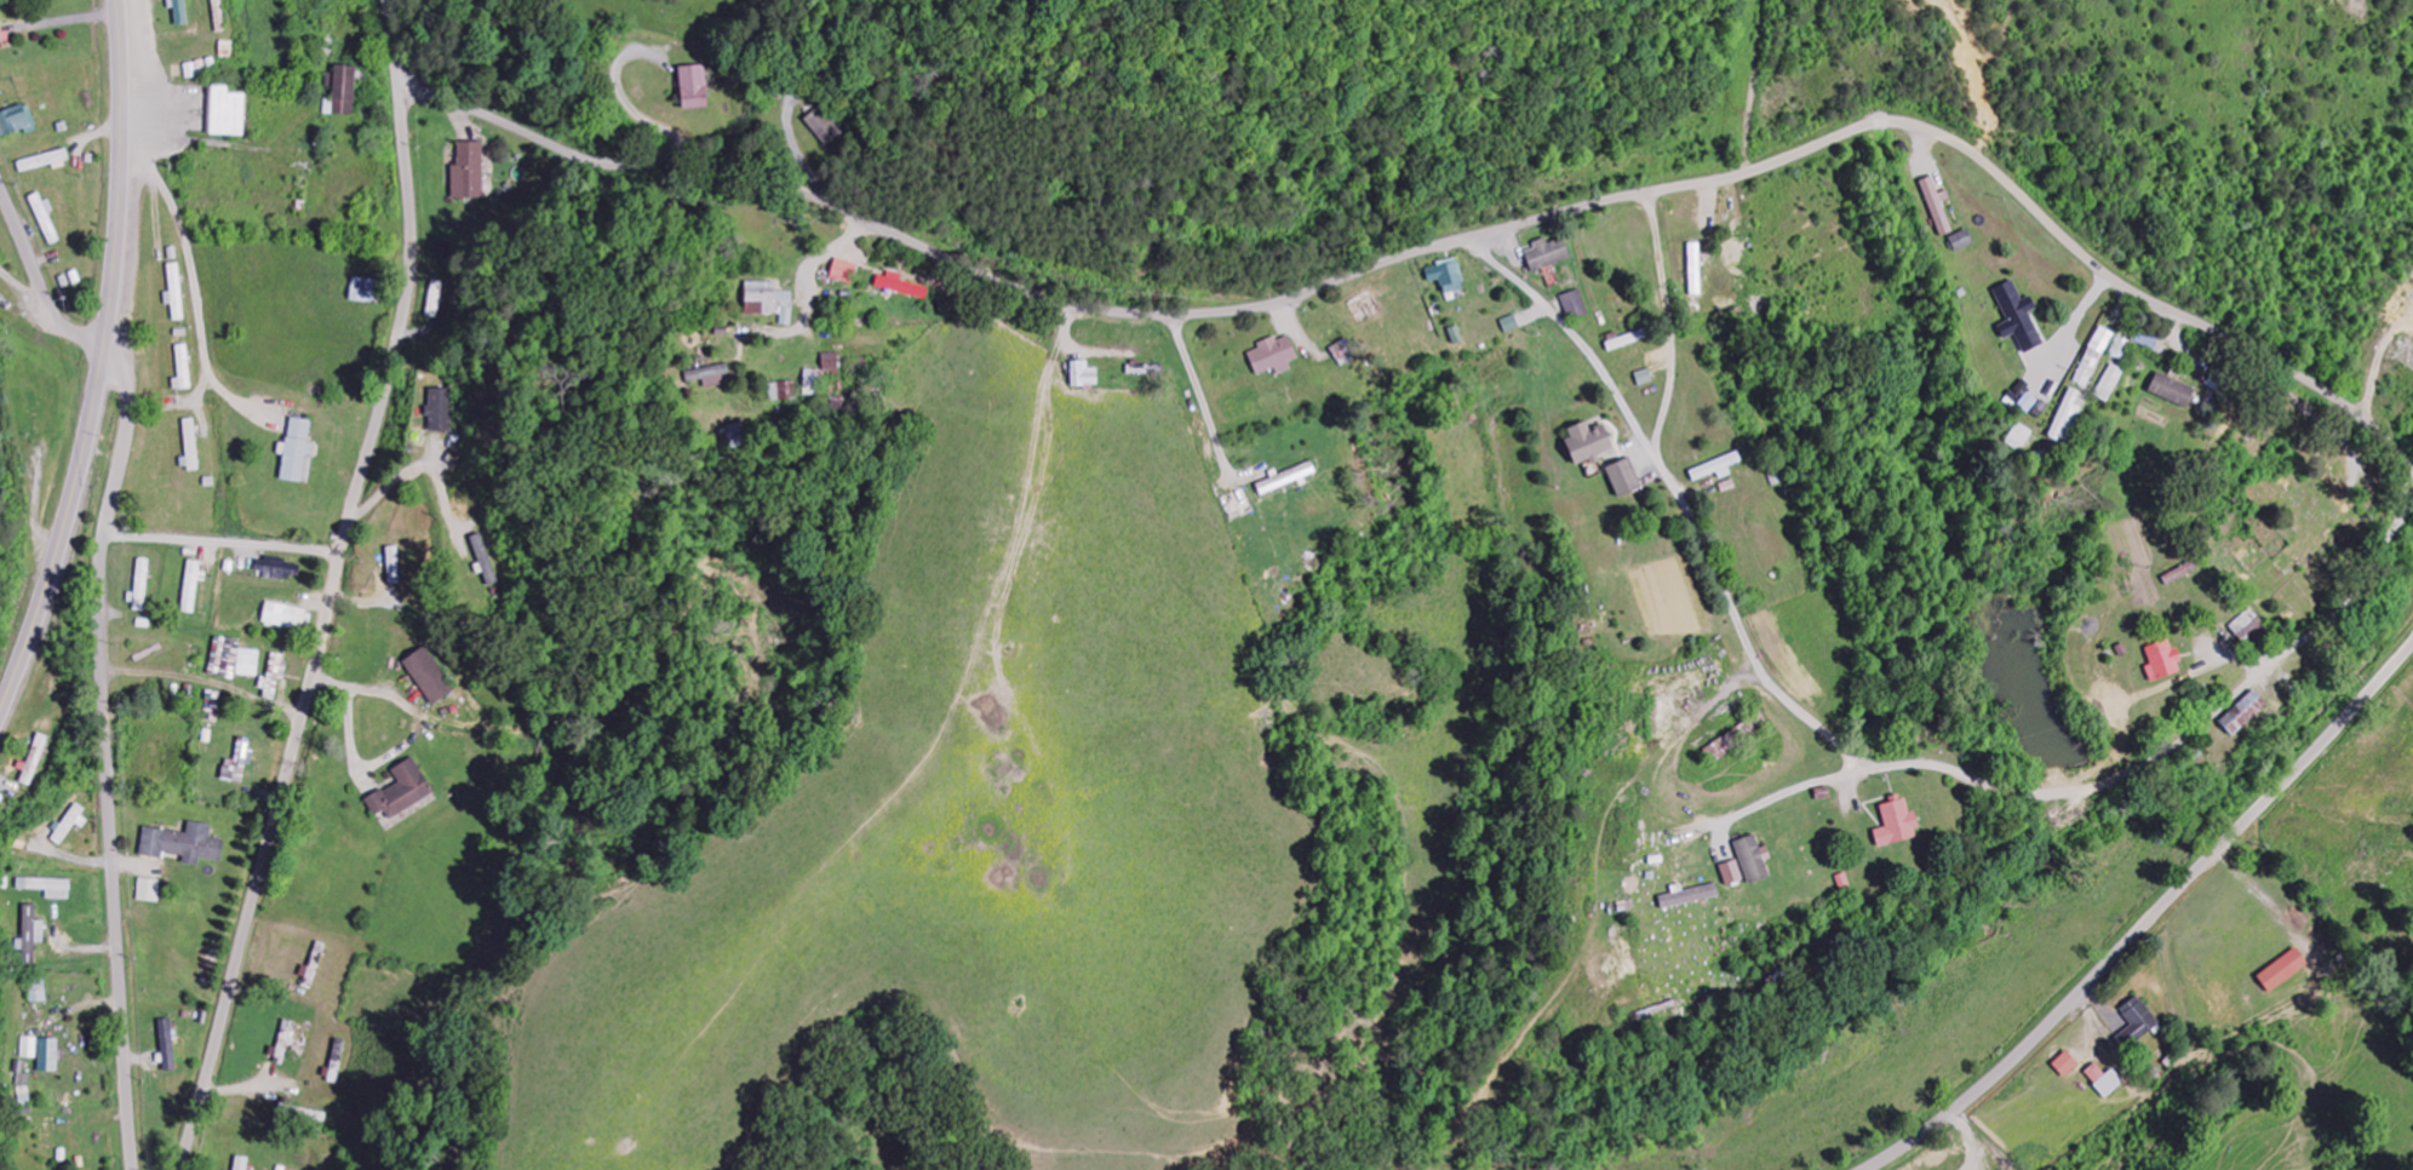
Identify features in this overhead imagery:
building: (179, 11)
building: (1, 33)
building: (694, 88)
building: (343, 92)
building: (227, 113)
building: (17, 121)
building: (825, 126)
building: (45, 161)
building: (469, 172)
building: (1938, 206)
building: (46, 219)
building: (1962, 241)
road: (1440, 248)
building: (1549, 254)
building: (1696, 269)
building: (844, 271)
building: (1449, 276)
road: (38, 279)
building: (901, 286)
building: (366, 291)
building: (176, 292)
building: (435, 299)
building: (769, 302)
building: (1575, 305)
building: (2019, 319)
building: (1511, 325)
building: (2147, 340)
building: (2121, 349)
building: (1345, 352)
building: (1274, 356)
building: (2094, 359)
building: (832, 363)
road: (102, 365)
building: (183, 369)
building: (711, 375)
building: (1084, 375)
building: (1645, 378)
building: (813, 383)
building: (2110, 384)
building: (784, 391)
building: (2173, 391)
building: (2029, 403)
building: (441, 411)
building: (2067, 418)
building: (2019, 438)
building: (1589, 443)
building: (191, 446)
building: (296, 451)
building: (1718, 469)
building: (1624, 478)
building: (1286, 480)
building: (485, 561)
building: (276, 568)
building: (142, 585)
building: (191, 587)
road: (334, 589)
building: (285, 616)
building: (2248, 627)
building: (225, 655)
building: (2163, 663)
building: (248, 664)
building: (430, 676)
building: (274, 679)
building: (2243, 715)
building: (1736, 740)
road: (108, 756)
building: (33, 762)
building: (237, 765)
building: (402, 792)
building: (70, 824)
building: (1897, 826)
building: (183, 845)
building: (1753, 860)
building: (1732, 873)
building: (48, 888)
building: (149, 891)
building: (1689, 896)
road: (2151, 920)
building: (31, 935)
building: (2283, 971)
building: (39, 991)
building: (2137, 1023)
building: (285, 1042)
building: (167, 1046)
building: (42, 1054)
building: (2067, 1065)
building: (24, 1082)
building: (300, 1113)
building: (241, 1164)

